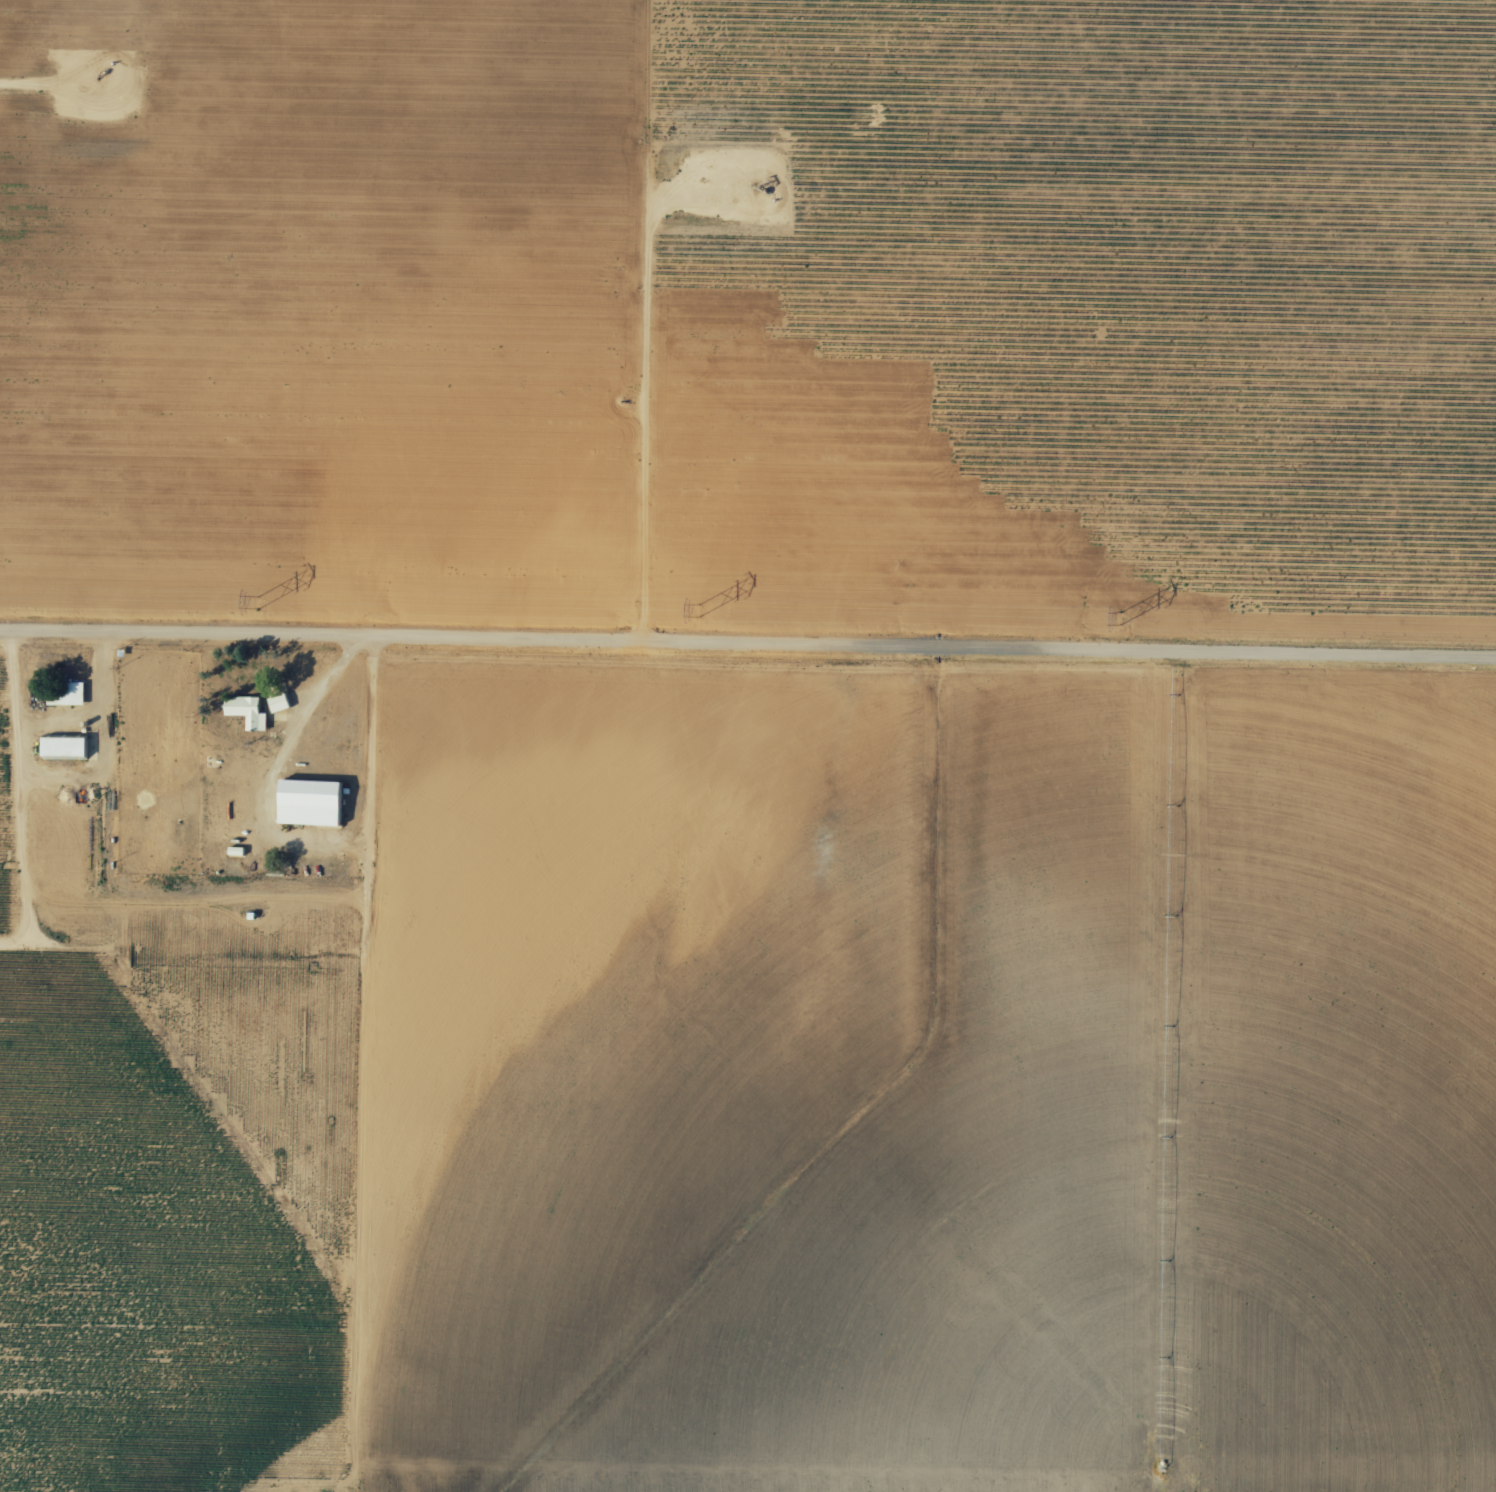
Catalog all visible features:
power tower: (260, 600)
power tower: (699, 607)
power tower: (1120, 615)
road: (747, 653)
building: (64, 746)
road: (62, 777)
building: (311, 801)
road: (372, 1061)
road: (1142, 1085)

